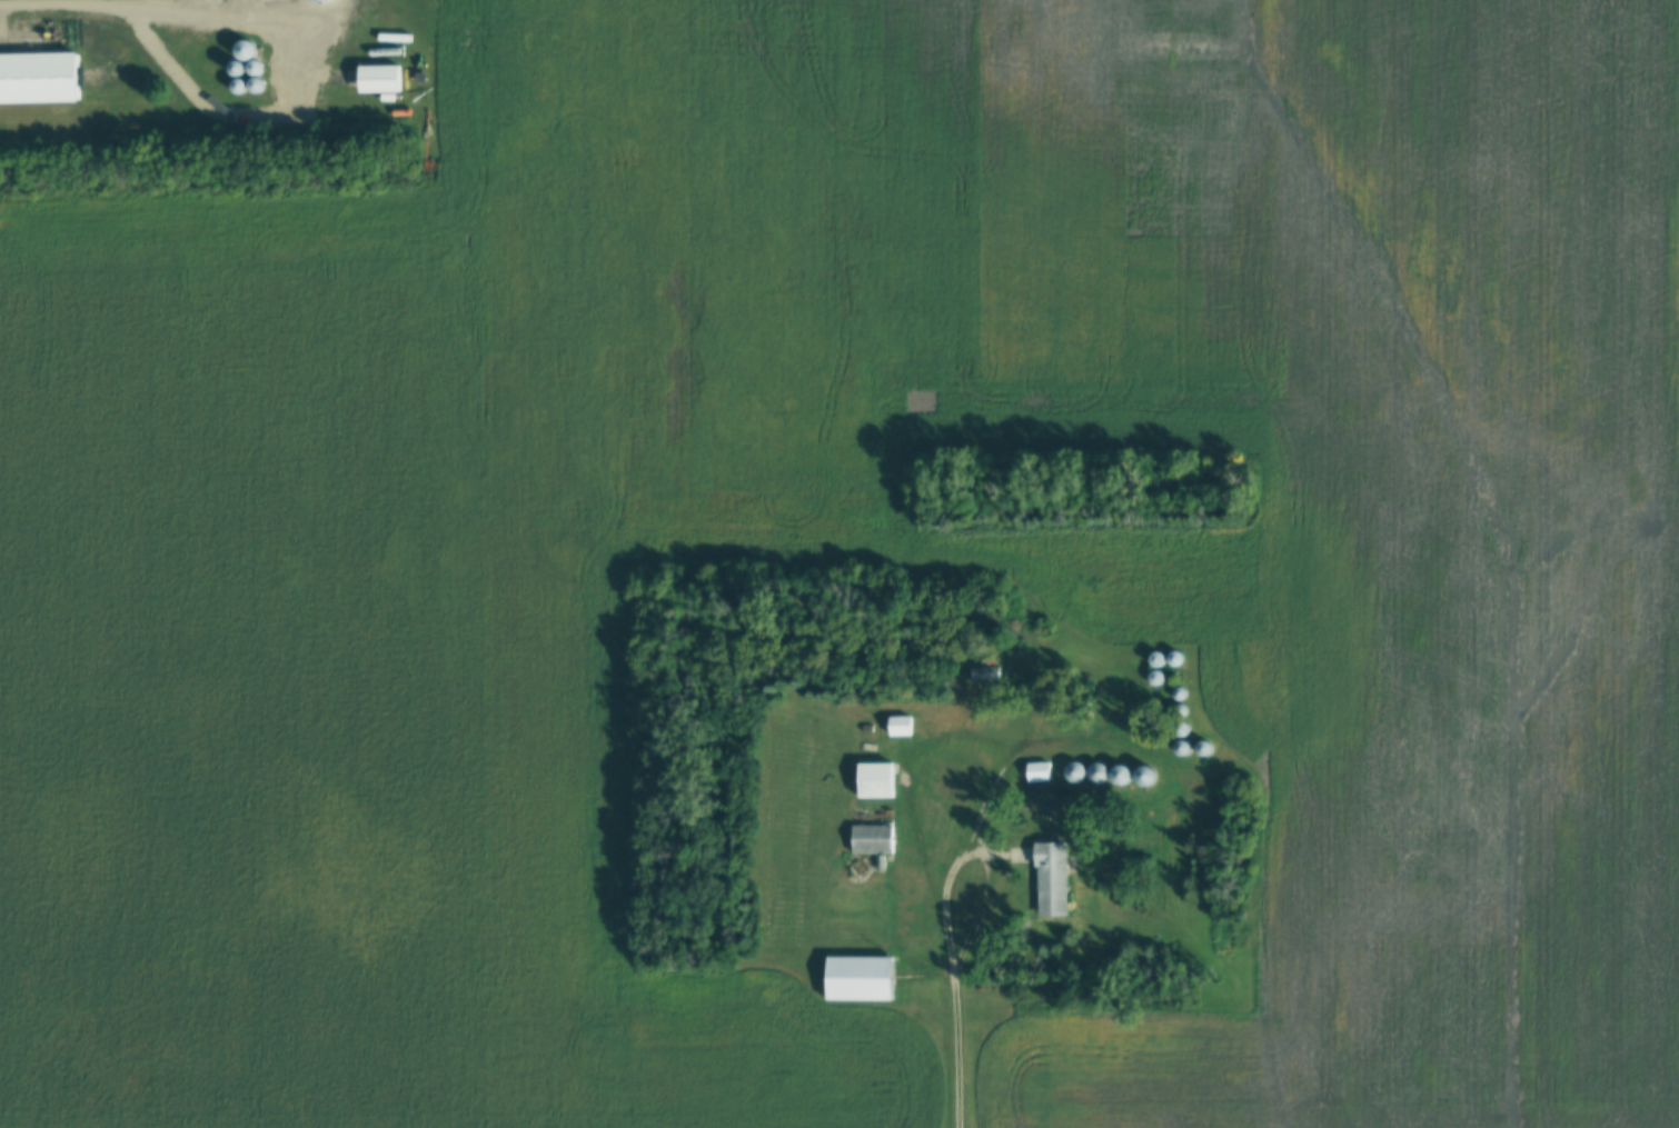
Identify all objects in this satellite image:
road: (149, 6)
building: (39, 77)
building: (377, 78)
building: (980, 672)
building: (897, 726)
building: (1180, 746)
building: (1036, 771)
building: (1106, 772)
building: (1141, 775)
building: (873, 780)
building: (868, 839)
road: (978, 848)
building: (1049, 879)
building: (857, 978)
road: (963, 1054)

